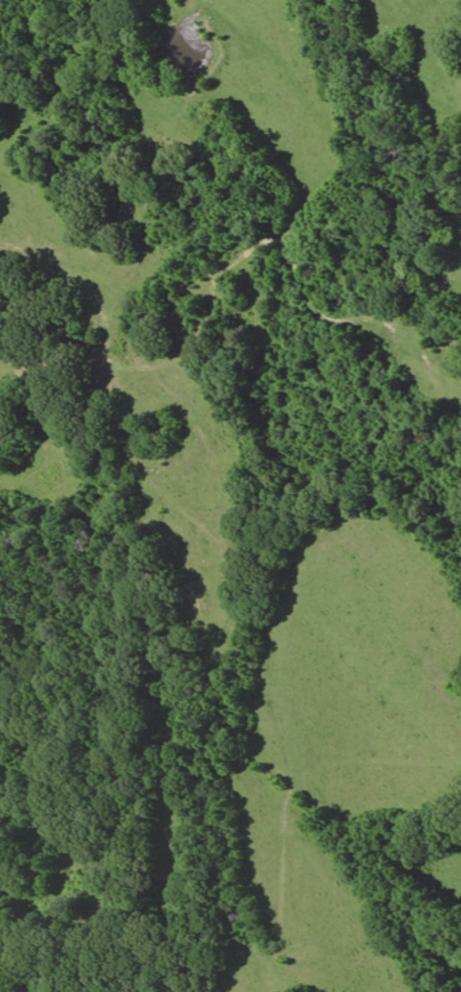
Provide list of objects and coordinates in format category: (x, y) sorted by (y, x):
road: (237, 272)

